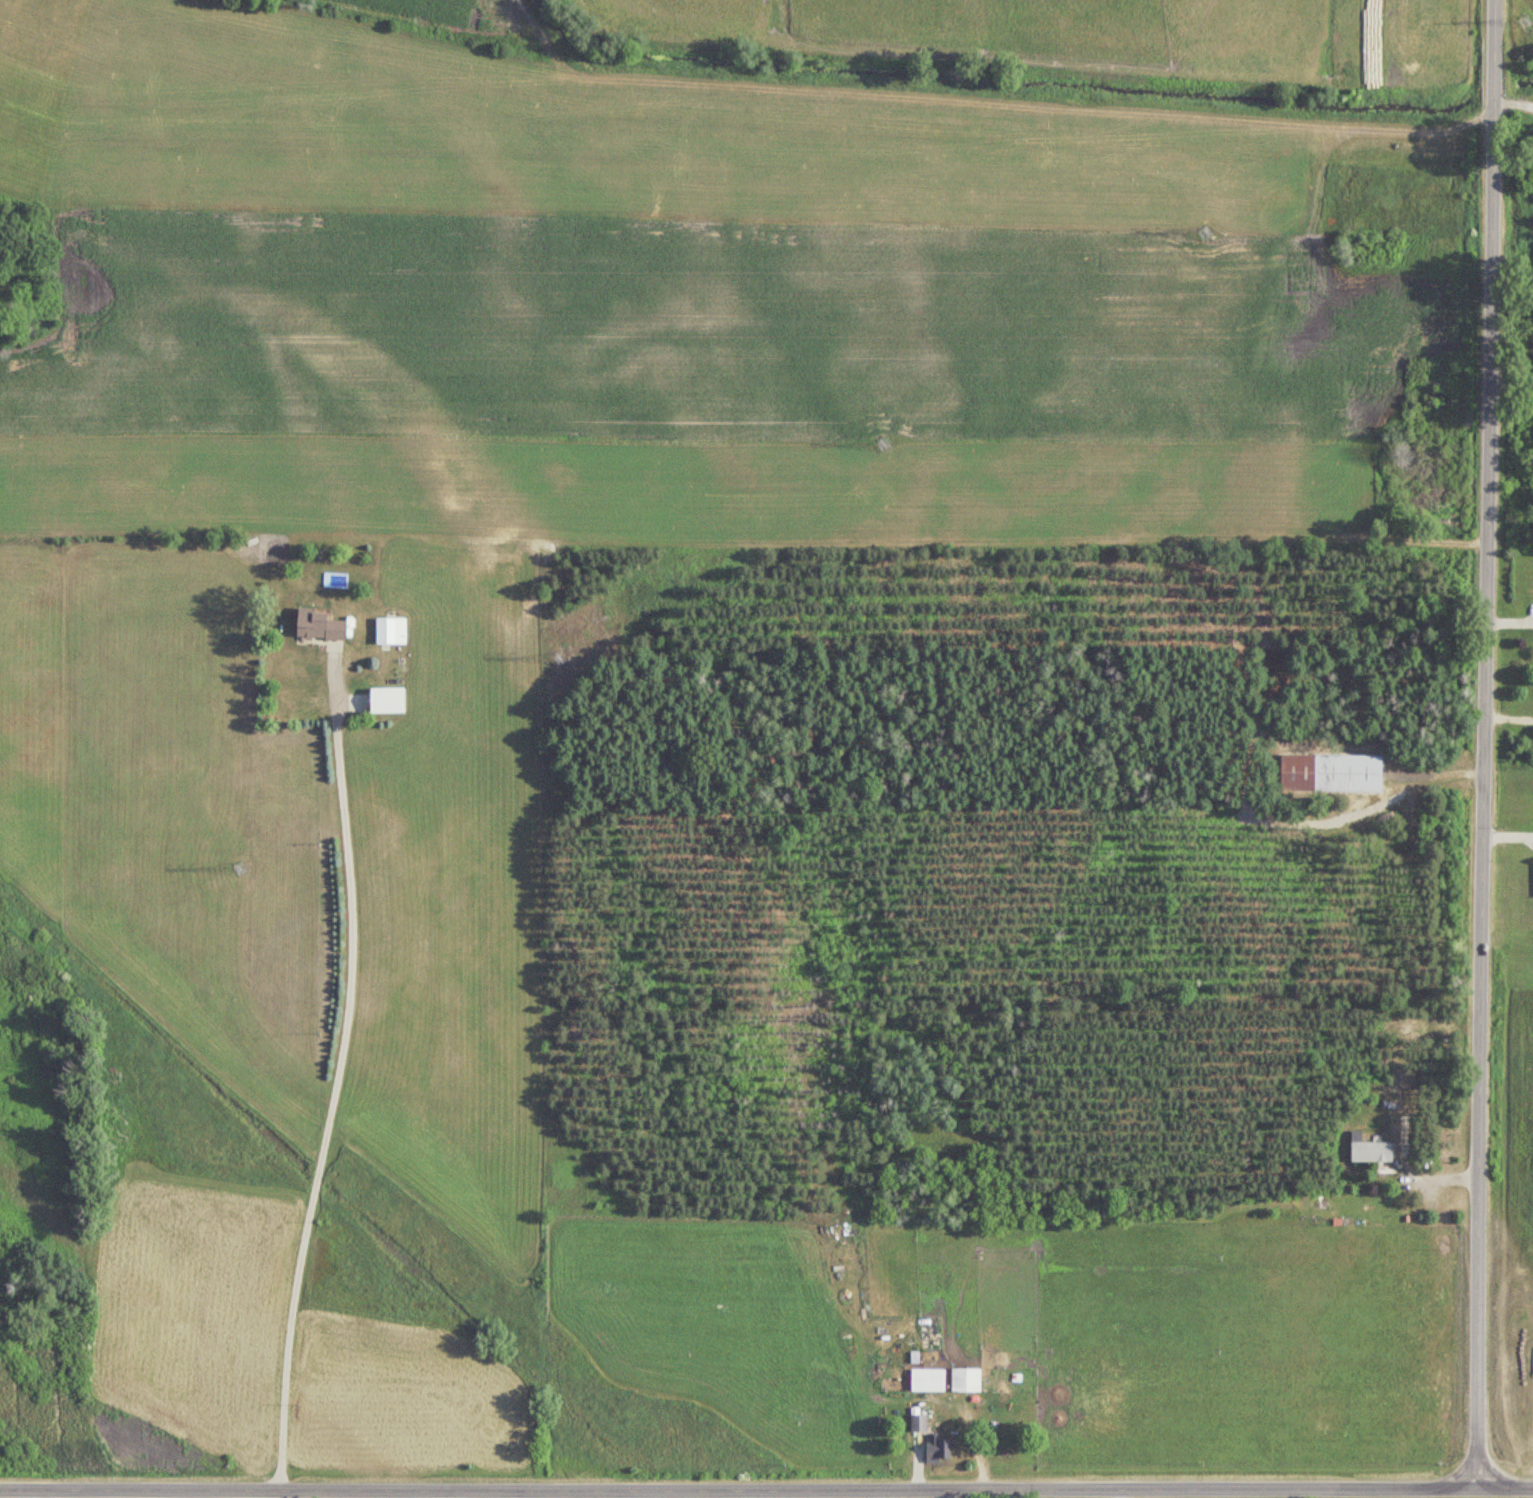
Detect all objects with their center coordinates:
power tower: (1528, 18)
road: (1514, 99)
power tower: (1205, 233)
power tower: (881, 447)
building: (320, 626)
building: (392, 631)
power tower: (561, 656)
building: (388, 701)
road: (1509, 717)
road: (1485, 742)
building: (1332, 773)
road: (1509, 839)
power tower: (242, 868)
road: (326, 1090)
building: (1371, 1151)
road: (1437, 1181)
building: (932, 1334)
building: (929, 1380)
building: (967, 1380)
building: (920, 1423)
building: (938, 1449)
road: (766, 1488)
road: (878, 1493)
road: (32, 1494)

